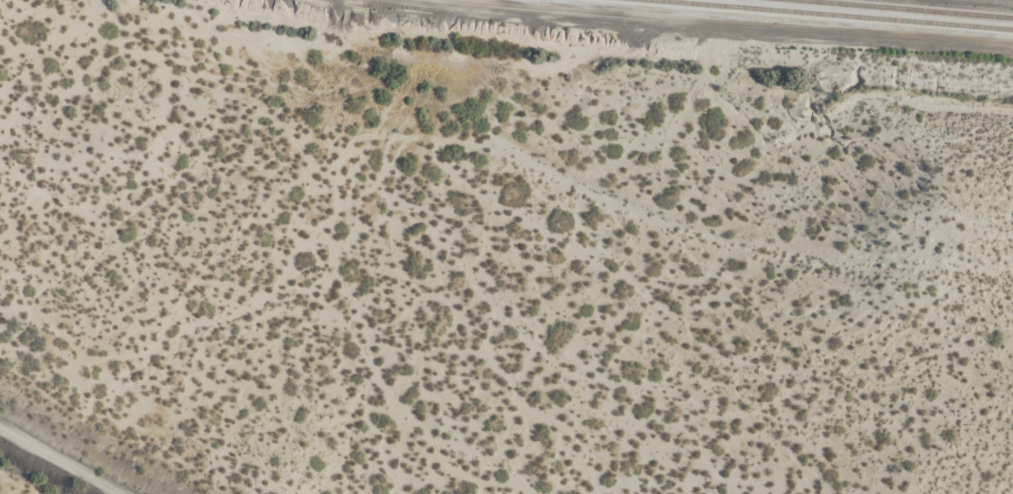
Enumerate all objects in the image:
railway: (901, 10)
railway: (831, 16)

